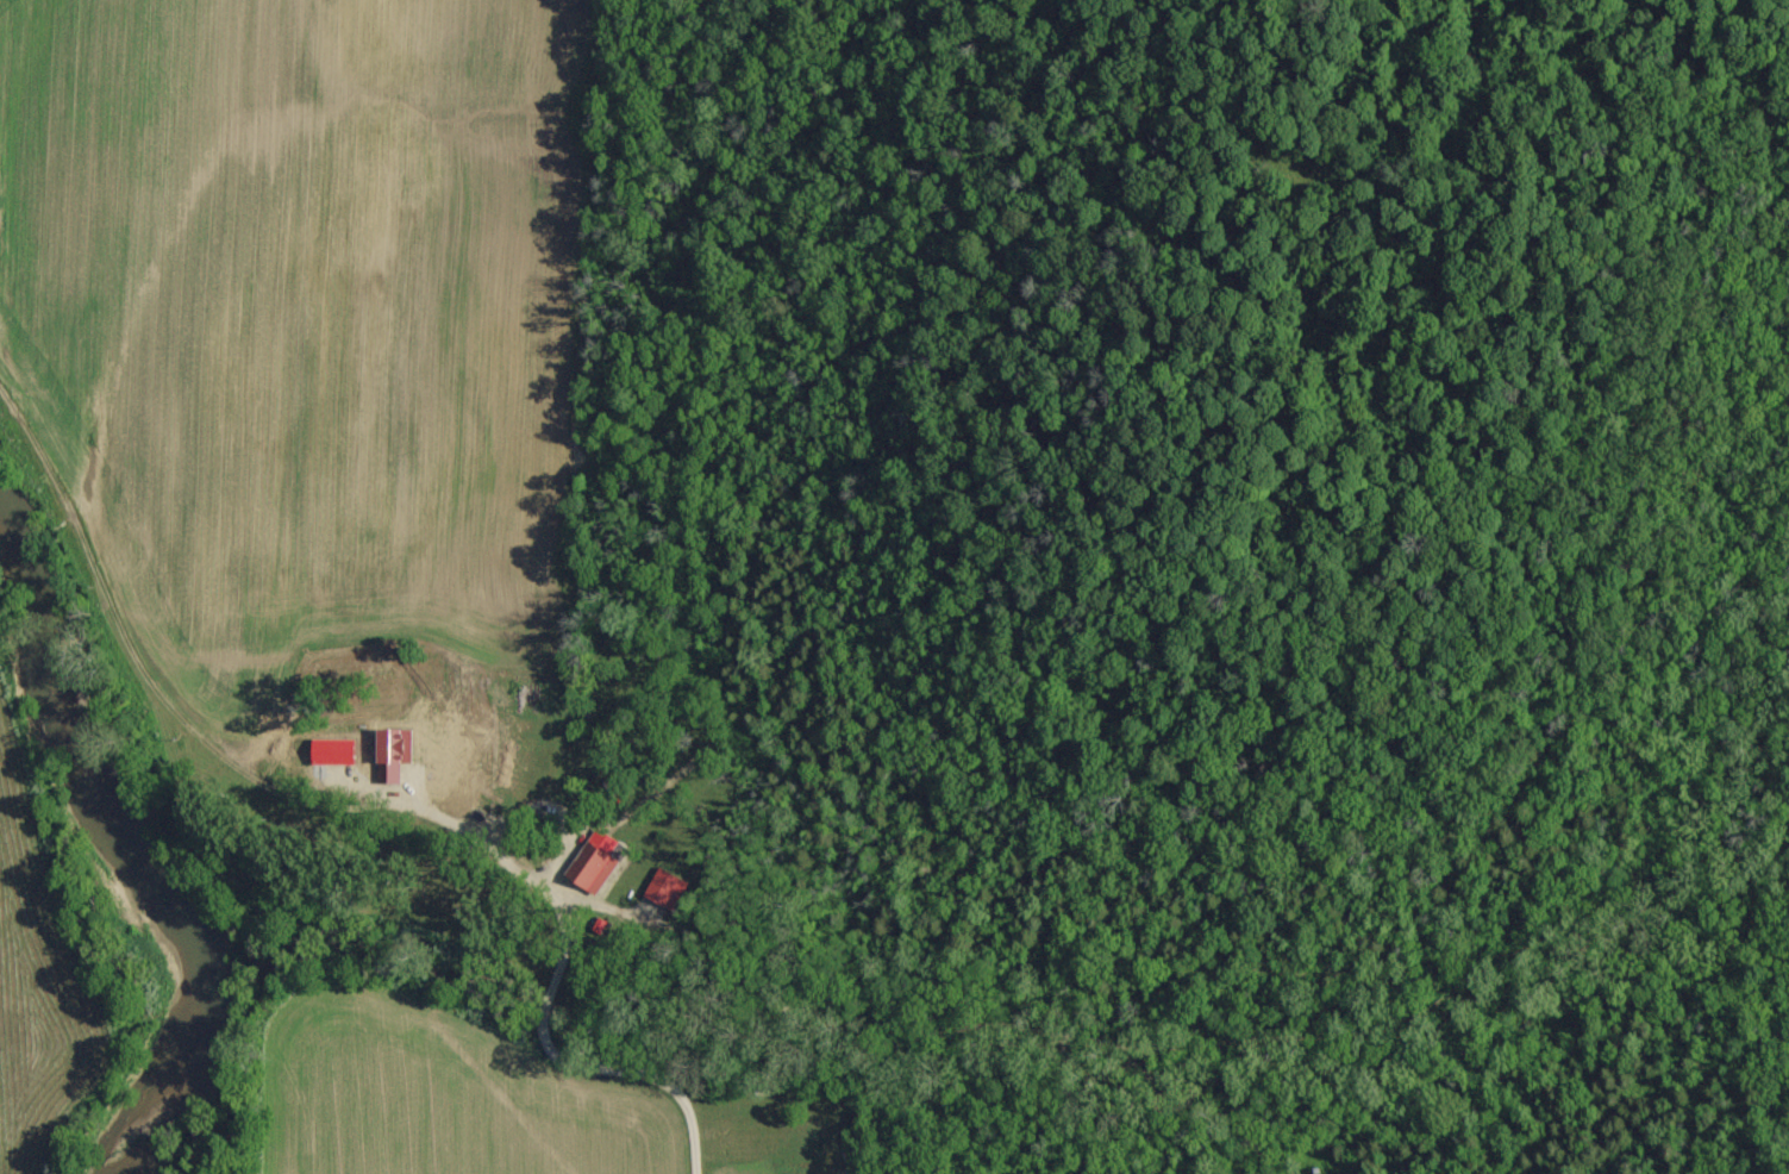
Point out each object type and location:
building: (339, 753)
building: (399, 754)
building: (600, 862)
building: (668, 888)

